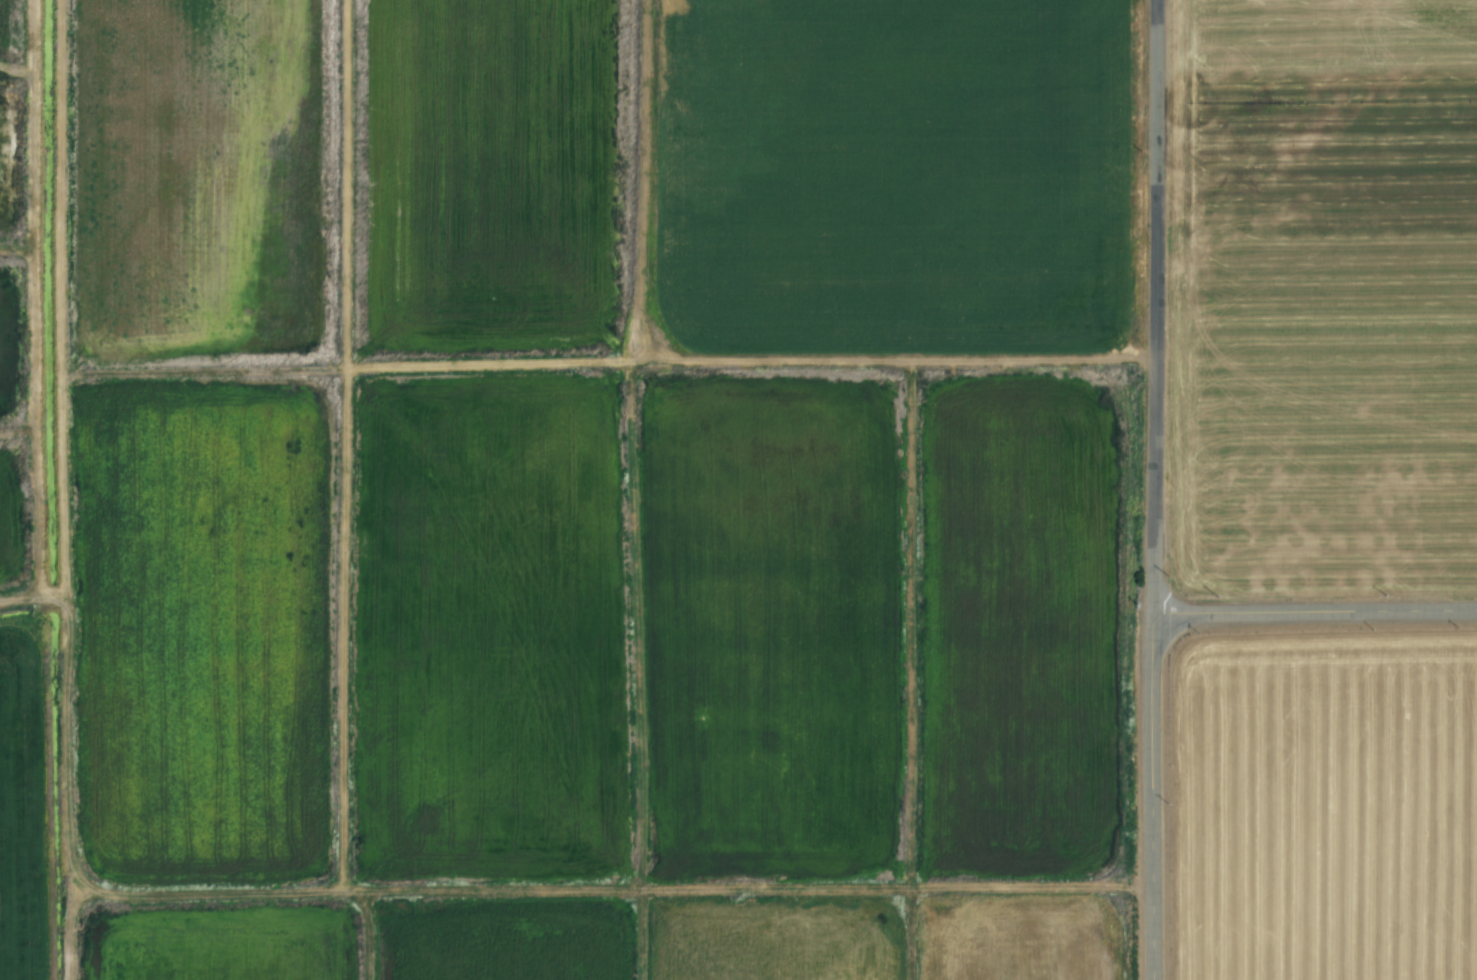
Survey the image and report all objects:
road: (1143, 490)
road: (1310, 618)

